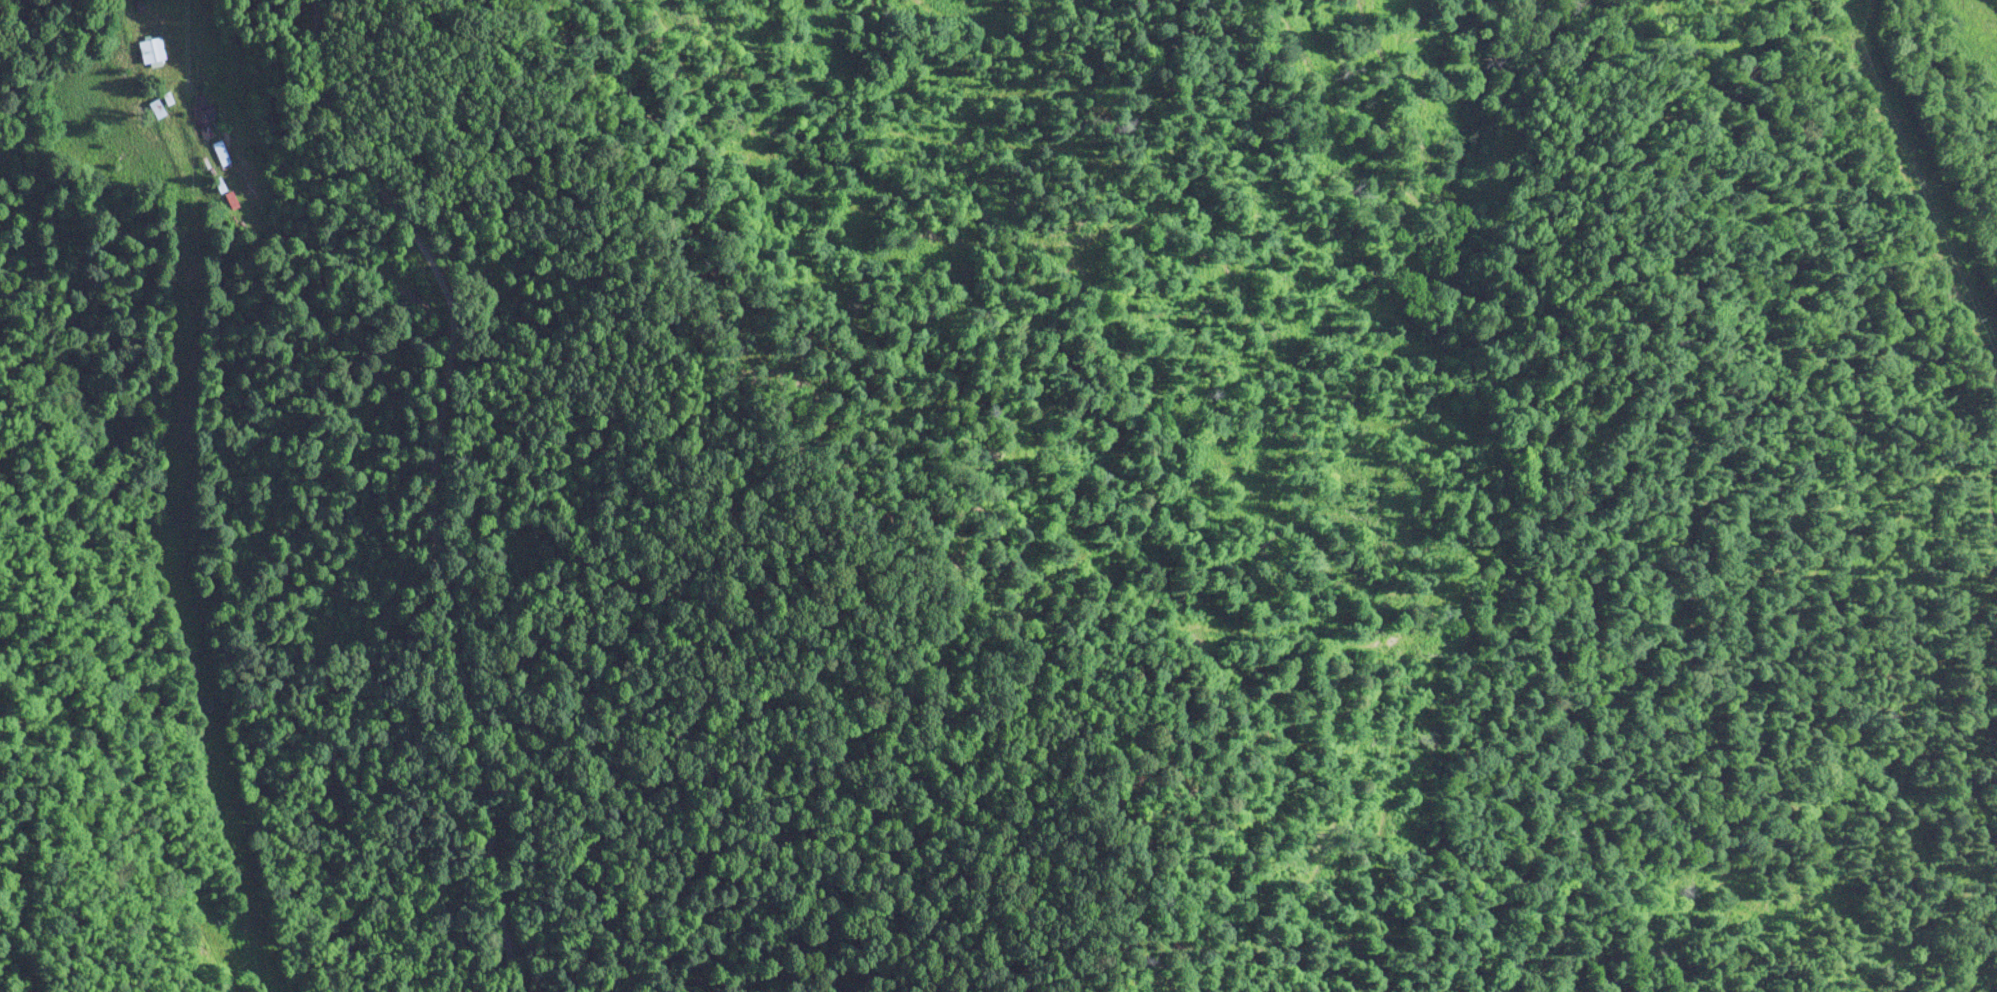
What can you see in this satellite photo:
building: (151, 49)
building: (204, 117)
building: (220, 151)
road: (407, 491)

